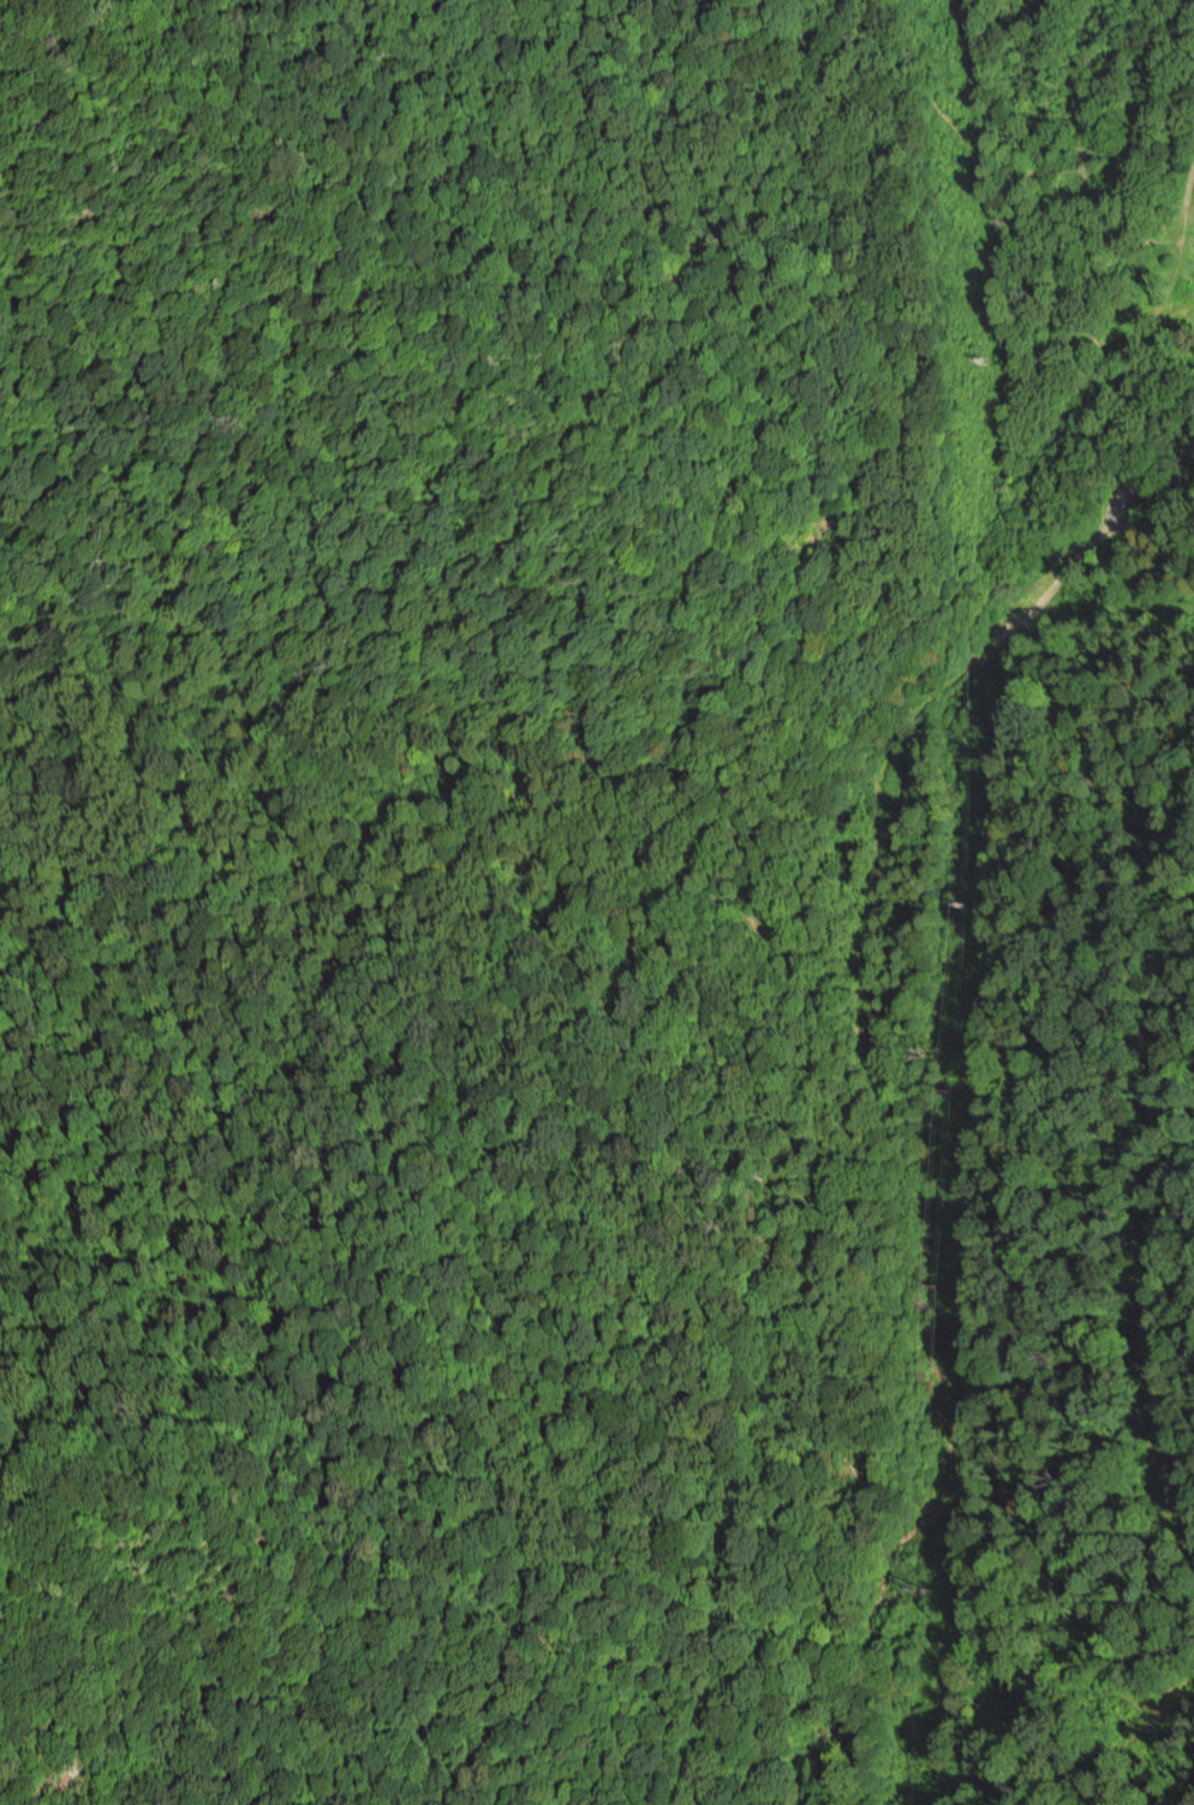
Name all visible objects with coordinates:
power tower: (974, 357)
power tower: (971, 910)

